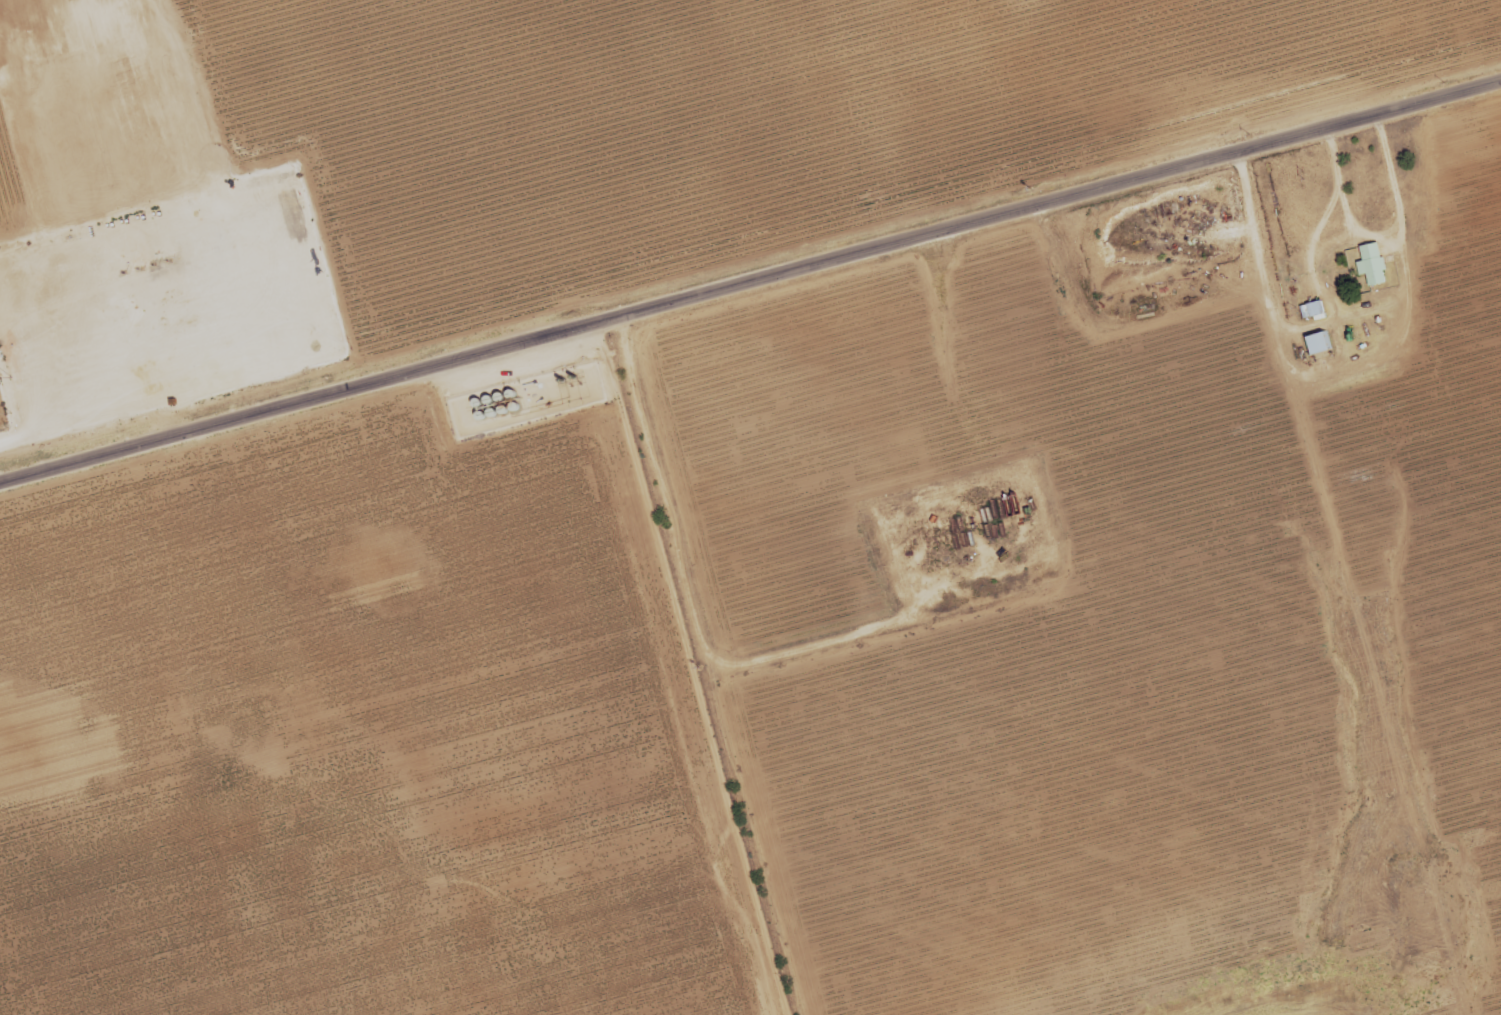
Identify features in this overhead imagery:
building: (1372, 264)
road: (750, 278)
building: (1314, 310)
building: (1317, 343)
road: (63, 427)

